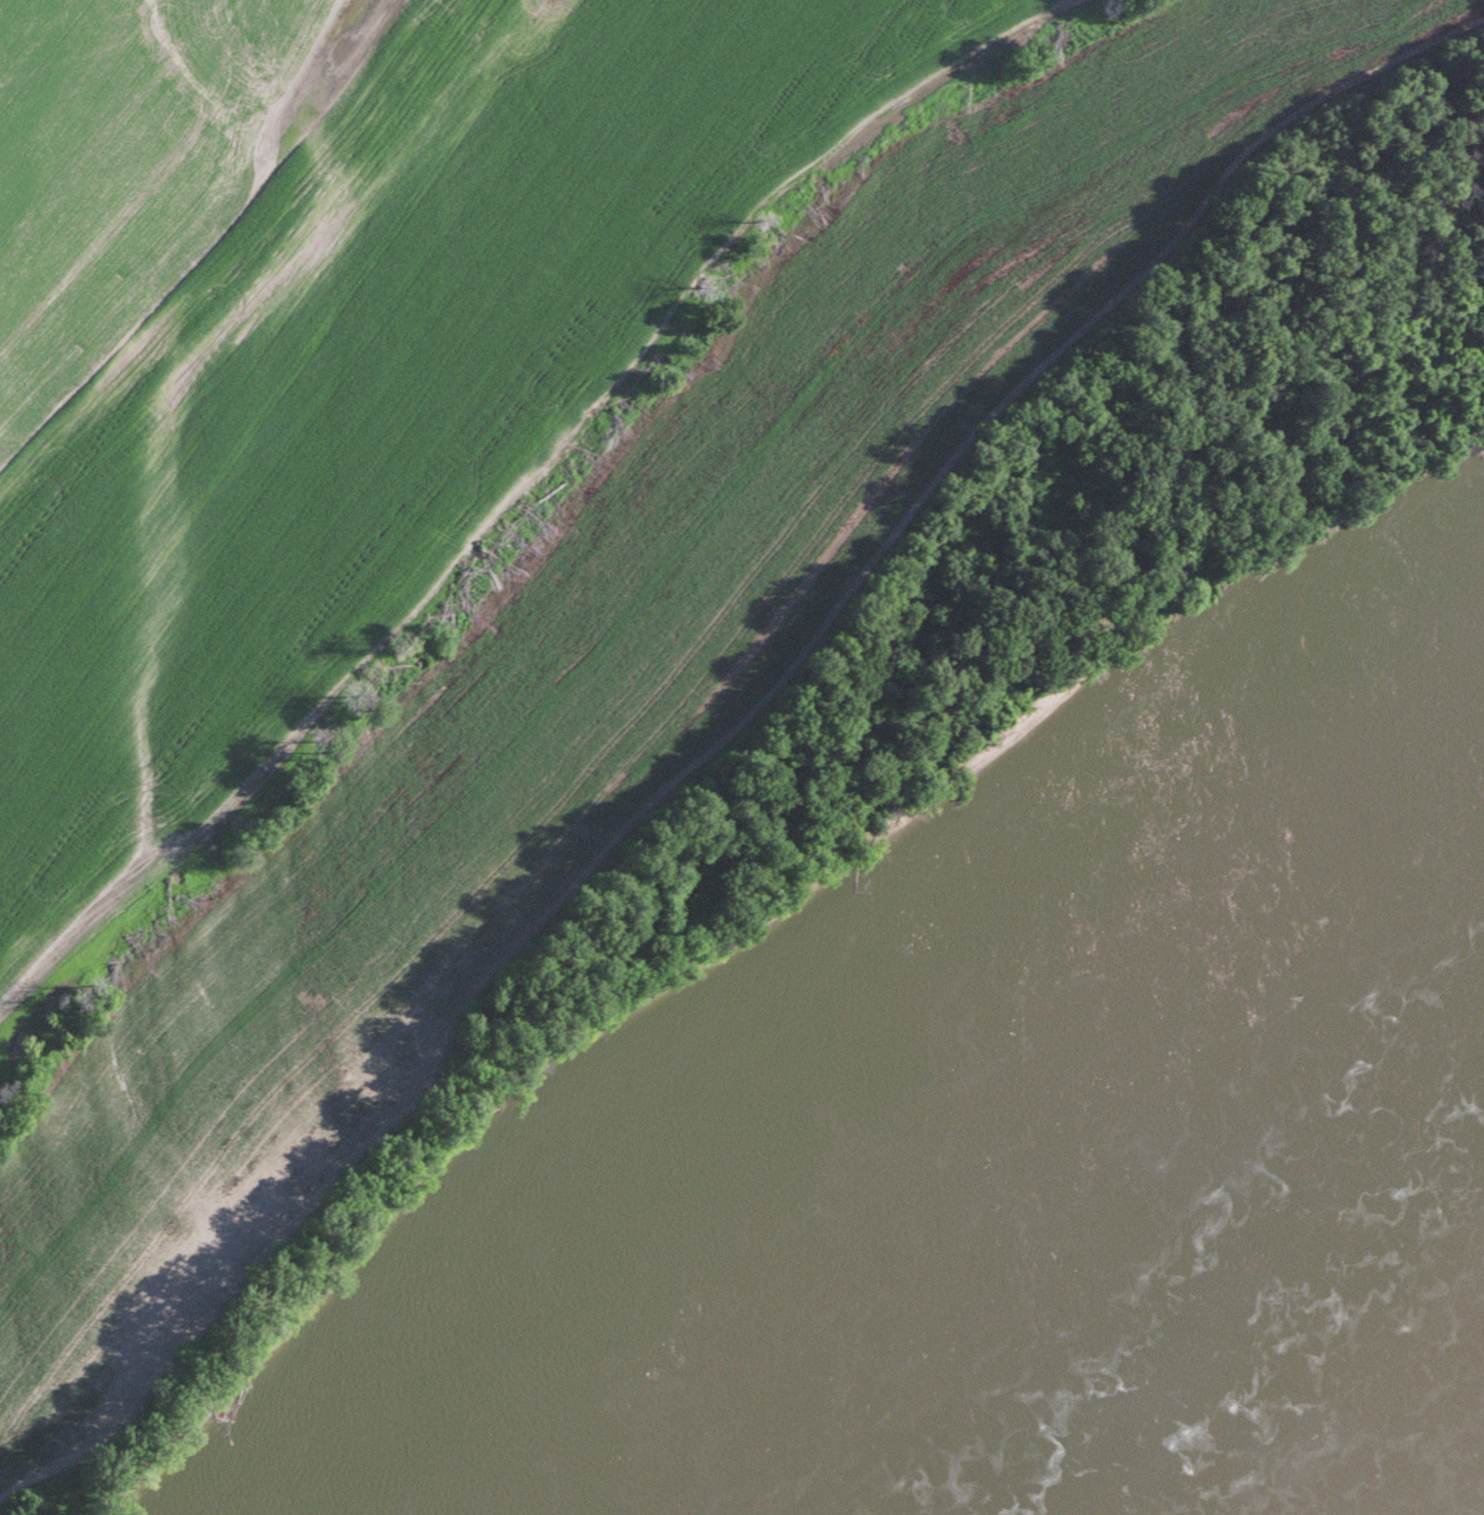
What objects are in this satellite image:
river: (1240, 1317)

